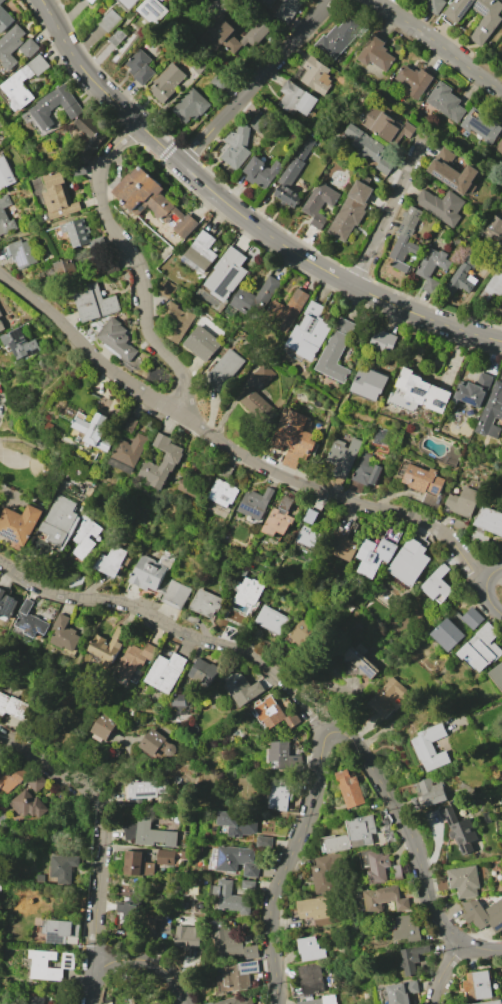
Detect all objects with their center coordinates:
building: (205, 0)
building: (92, 1)
building: (2, 2)
building: (266, 2)
building: (128, 4)
building: (434, 6)
building: (155, 9)
building: (287, 10)
building: (4, 19)
building: (109, 20)
building: (490, 23)
building: (338, 37)
building: (226, 39)
building: (113, 41)
road: (439, 43)
building: (29, 47)
building: (9, 48)
building: (376, 54)
building: (198, 63)
building: (140, 67)
building: (315, 75)
building: (414, 80)
road: (255, 81)
building: (166, 82)
building: (12, 83)
building: (221, 83)
building: (297, 98)
building: (447, 102)
building: (53, 106)
building: (191, 106)
building: (257, 119)
building: (382, 124)
building: (482, 125)
building: (89, 128)
building: (364, 143)
building: (500, 145)
building: (237, 147)
building: (387, 166)
building: (78, 169)
building: (452, 171)
building: (261, 172)
building: (5, 173)
building: (293, 176)
building: (56, 196)
building: (320, 203)
building: (153, 205)
building: (442, 206)
building: (351, 211)
road: (241, 213)
building: (5, 215)
road: (386, 217)
building: (495, 230)
building: (80, 234)
building: (405, 239)
building: (23, 253)
building: (200, 253)
road: (135, 262)
building: (62, 267)
building: (432, 267)
building: (112, 268)
building: (464, 273)
building: (227, 274)
building: (167, 289)
building: (492, 289)
building: (255, 298)
building: (92, 301)
building: (288, 309)
building: (0, 314)
building: (175, 322)
building: (2, 326)
building: (311, 331)
building: (117, 340)
building: (381, 341)
building: (19, 343)
building: (204, 344)
road: (360, 350)
building: (336, 351)
building: (224, 370)
building: (265, 374)
building: (370, 384)
building: (474, 390)
building: (423, 391)
building: (253, 402)
building: (491, 414)
building: (130, 424)
building: (93, 430)
building: (294, 437)
building: (380, 437)
road: (31, 443)
road: (232, 449)
building: (127, 453)
road: (11, 457)
park: (12, 458)
building: (342, 458)
building: (168, 463)
park: (29, 467)
building: (226, 471)
building: (365, 474)
building: (423, 479)
road: (10, 493)
building: (222, 493)
building: (464, 502)
building: (255, 503)
building: (309, 516)
building: (280, 518)
building: (59, 523)
building: (19, 524)
building: (487, 525)
building: (85, 539)
building: (308, 539)
building: (341, 545)
building: (372, 557)
building: (111, 561)
building: (409, 561)
building: (159, 582)
building: (438, 584)
road: (485, 589)
building: (247, 594)
building: (207, 603)
building: (7, 604)
building: (235, 616)
building: (473, 618)
building: (270, 619)
building: (30, 621)
road: (180, 627)
building: (65, 635)
building: (303, 635)
building: (448, 635)
building: (108, 644)
building: (481, 648)
building: (135, 659)
building: (359, 662)
building: (166, 672)
building: (204, 673)
building: (497, 675)
building: (243, 688)
building: (388, 696)
building: (178, 700)
building: (15, 707)
building: (273, 713)
building: (105, 727)
road: (340, 734)
building: (157, 744)
building: (430, 747)
building: (282, 755)
building: (12, 779)
building: (37, 782)
building: (149, 789)
building: (350, 789)
building: (431, 793)
building: (279, 795)
building: (28, 804)
building: (238, 823)
road: (103, 824)
building: (460, 829)
building: (150, 834)
building: (354, 835)
building: (265, 841)
building: (185, 854)
building: (237, 860)
building: (133, 863)
building: (165, 864)
building: (378, 866)
building: (149, 868)
building: (63, 869)
building: (398, 872)
building: (322, 875)
building: (38, 877)
building: (465, 880)
building: (249, 884)
building: (124, 888)
building: (232, 898)
building: (384, 899)
building: (128, 910)
building: (317, 910)
building: (484, 914)
building: (161, 922)
building: (408, 928)
building: (62, 931)
building: (187, 936)
building: (225, 938)
building: (309, 949)
building: (251, 951)
building: (414, 957)
road: (133, 958)
building: (40, 963)
road: (443, 970)
building: (239, 975)
building: (311, 978)
building: (479, 985)
building: (402, 992)
building: (37, 1000)
building: (242, 1001)
building: (320, 1001)
building: (68, 1002)
building: (491, 1002)
road: (0, 1003)
building: (158, 1003)
building: (162, 1003)

